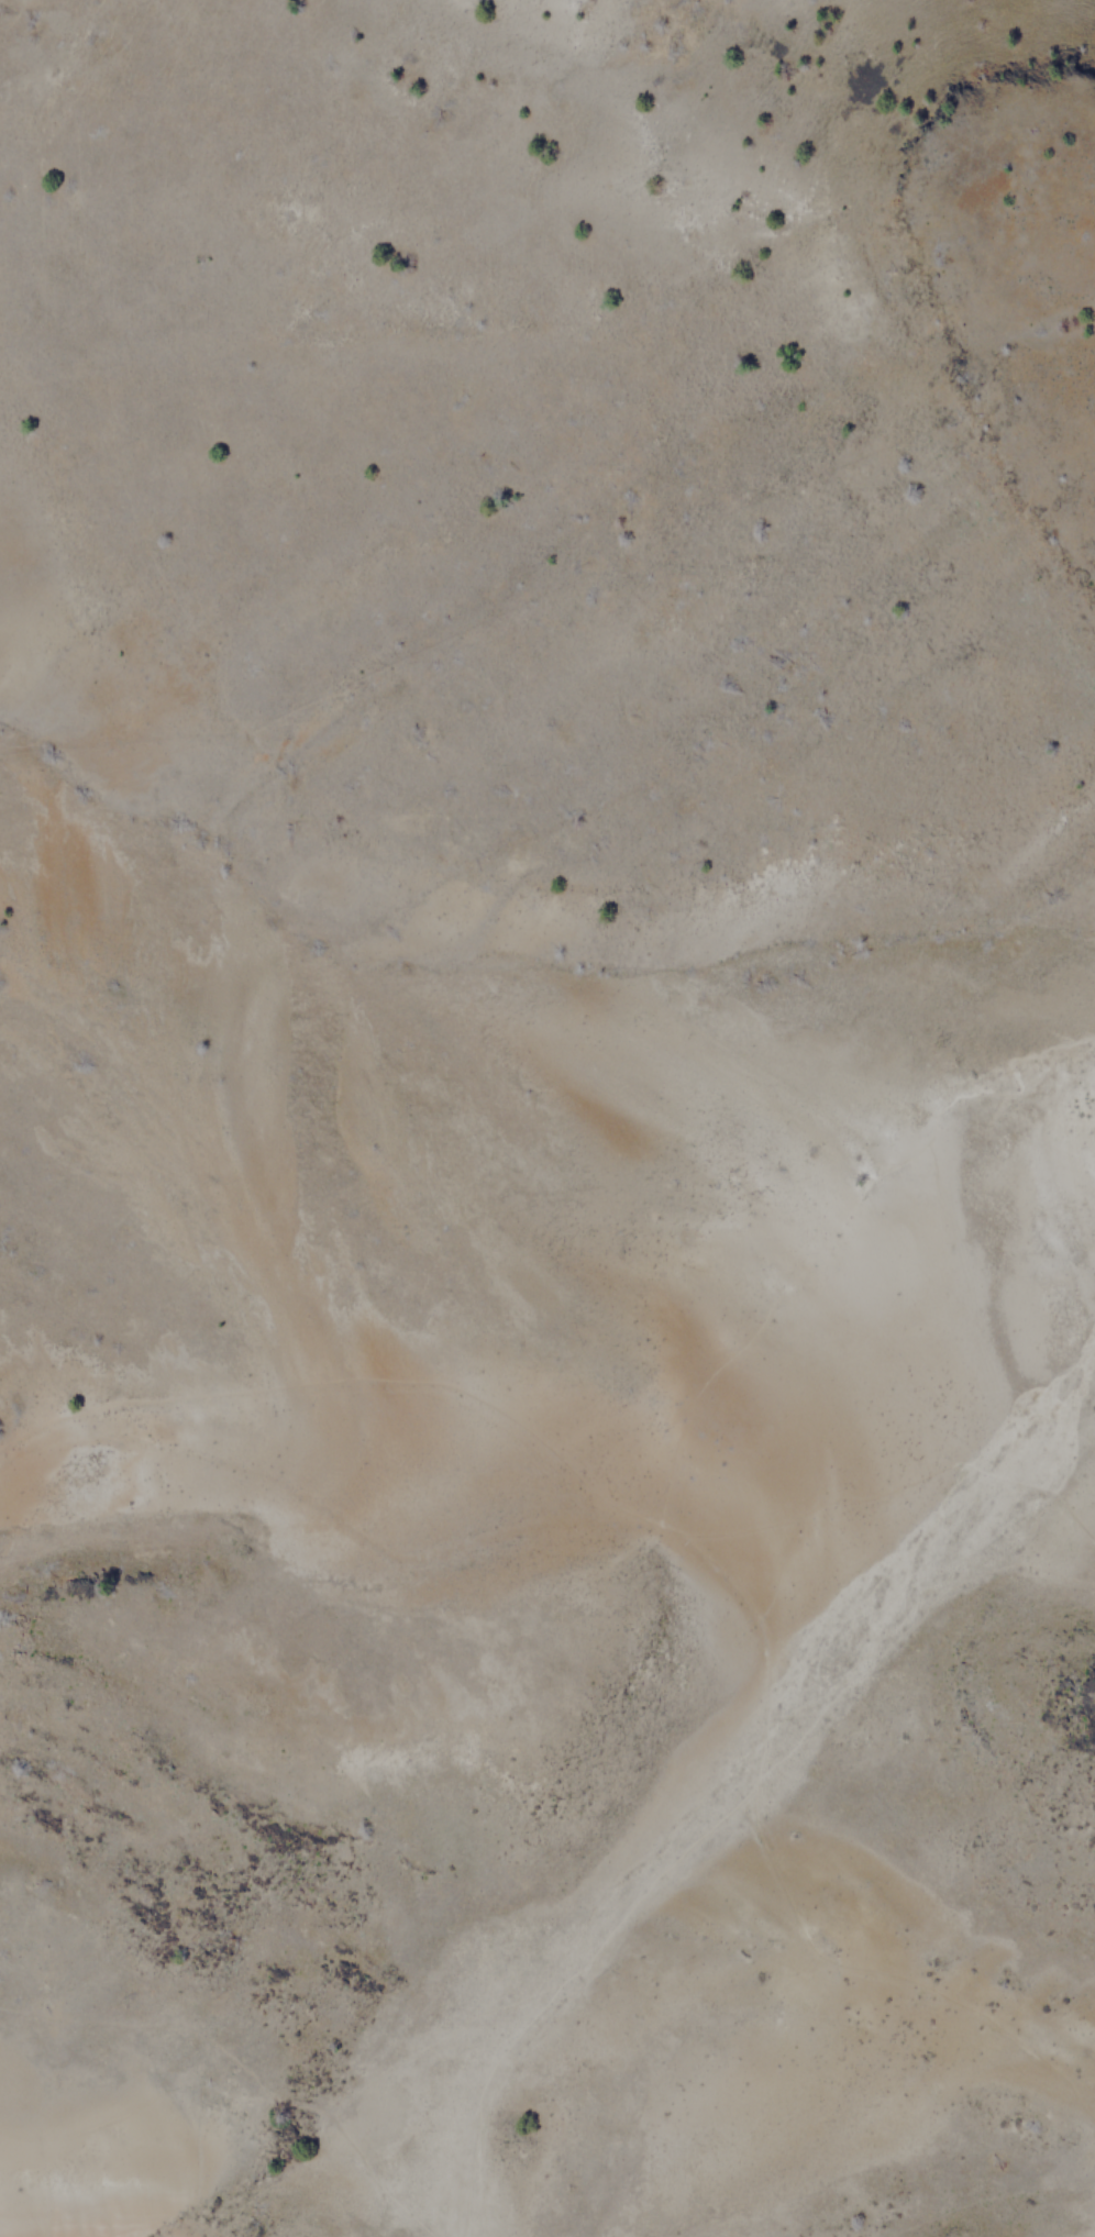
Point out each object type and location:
road: (693, 1408)
road: (712, 1572)
road: (234, 2101)

